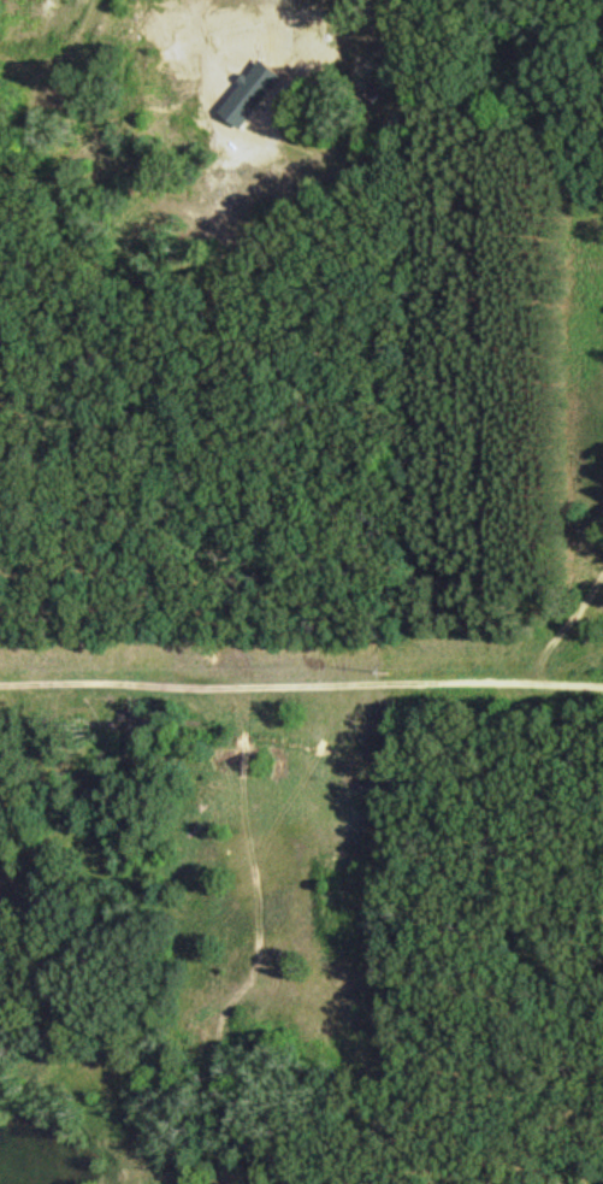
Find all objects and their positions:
quarry: (195, 946)

